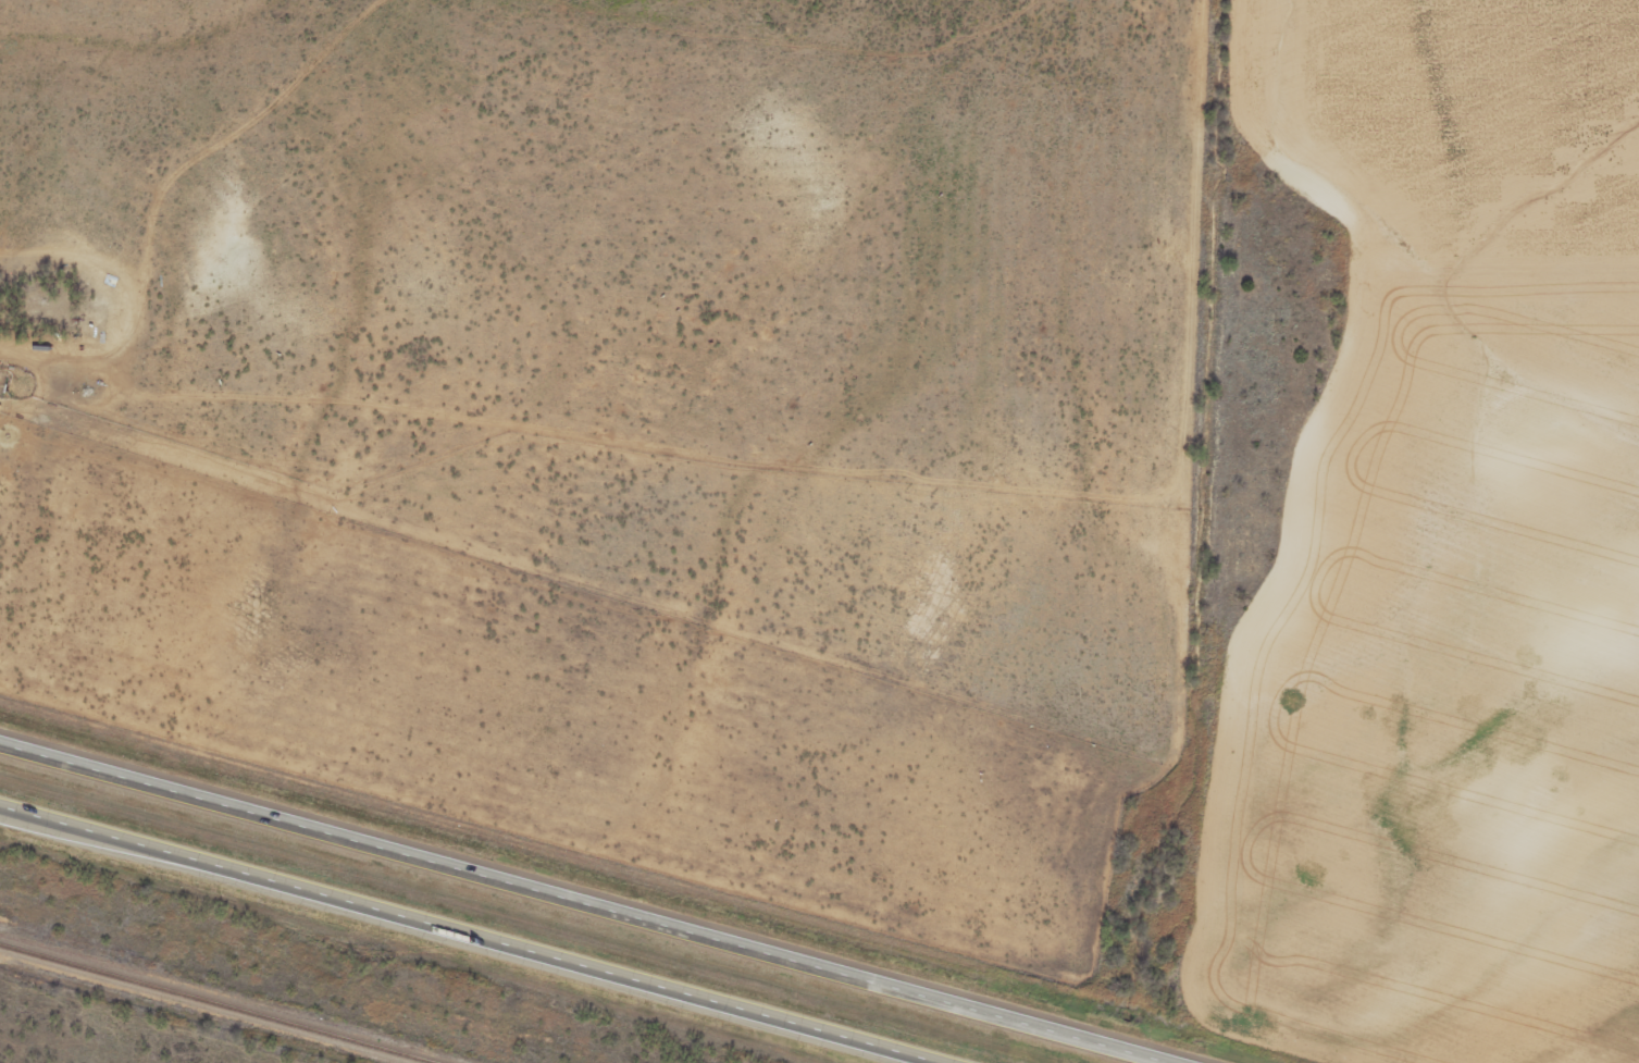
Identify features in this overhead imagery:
road: (609, 887)
road: (472, 938)
railway: (204, 1008)

